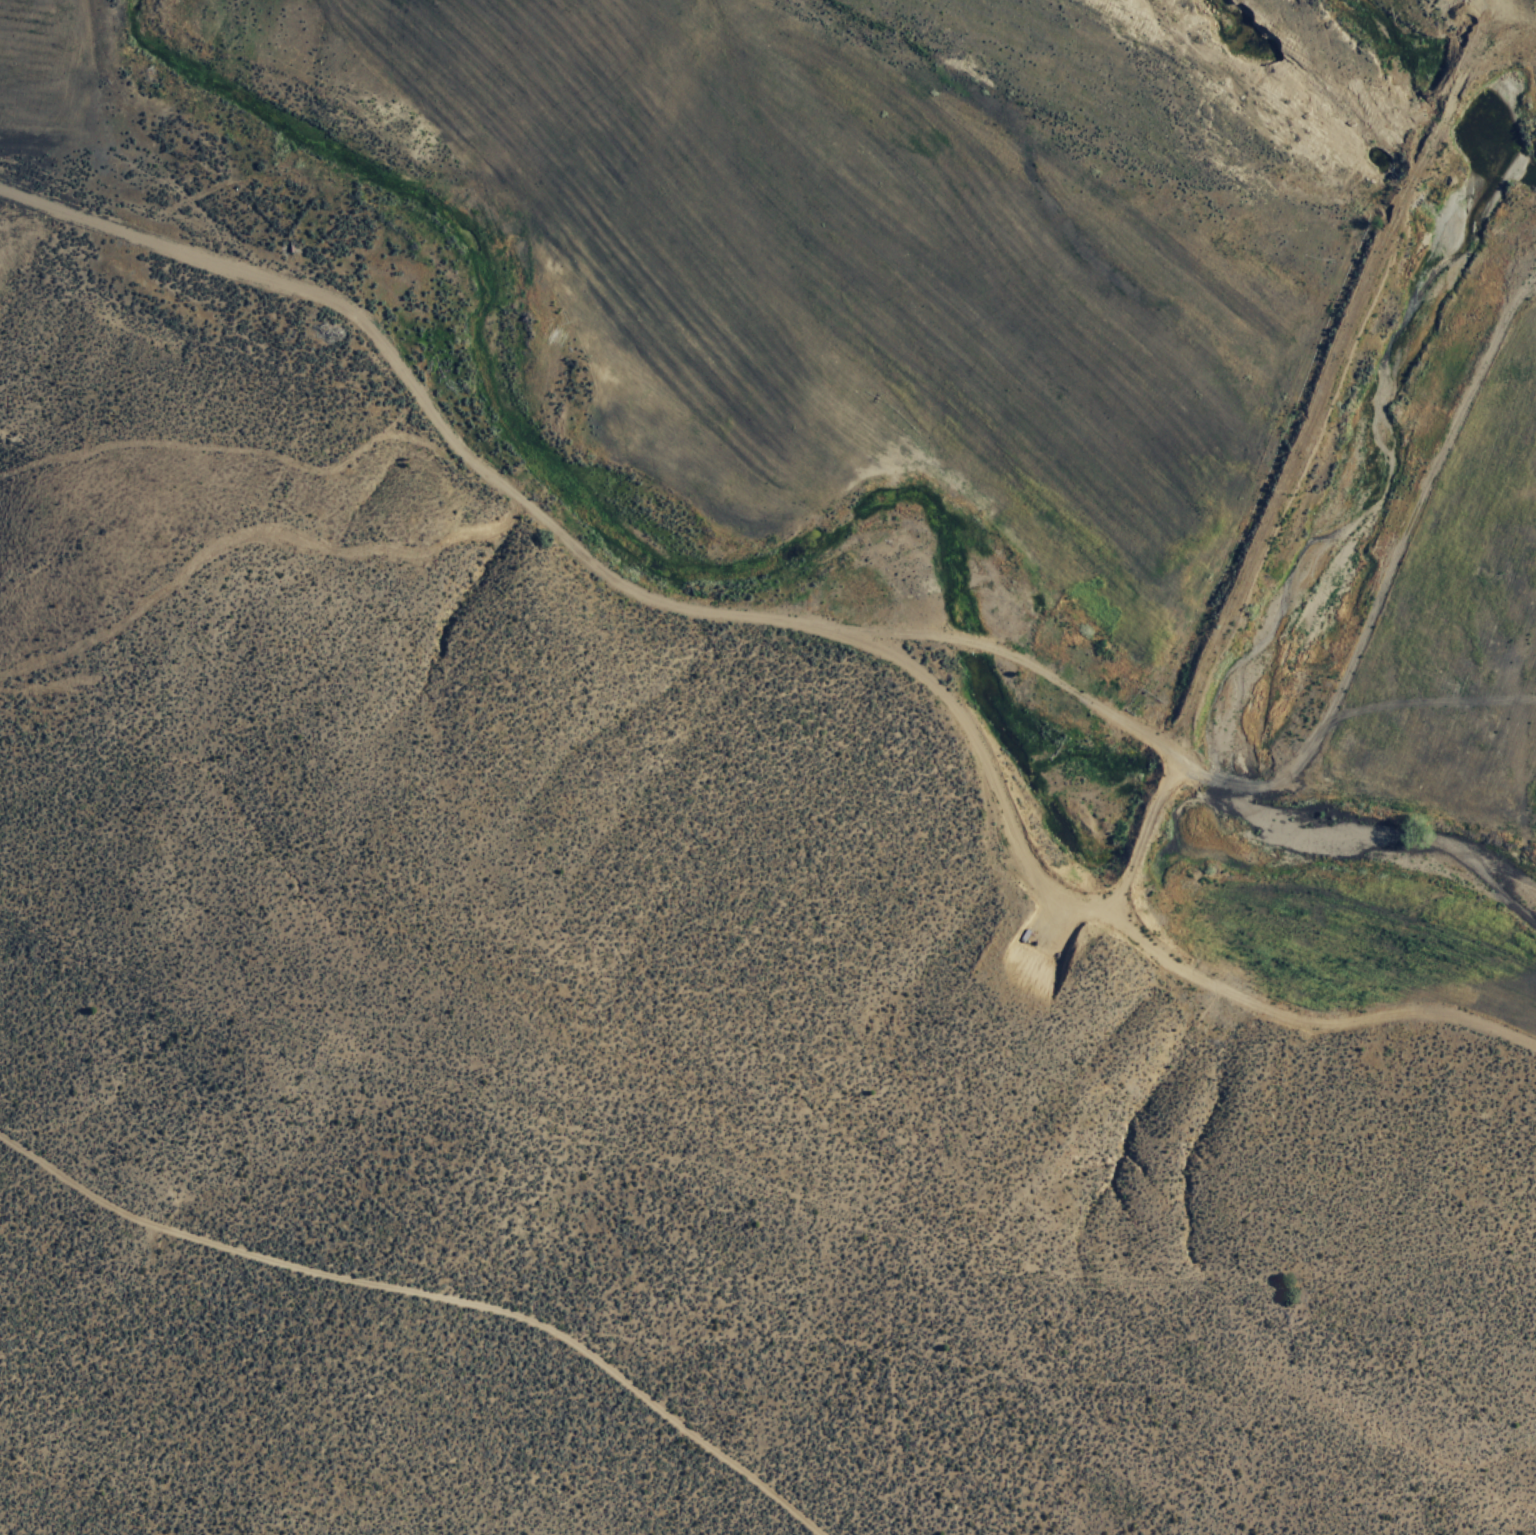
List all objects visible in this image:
road: (175, 168)
road: (435, 1294)

